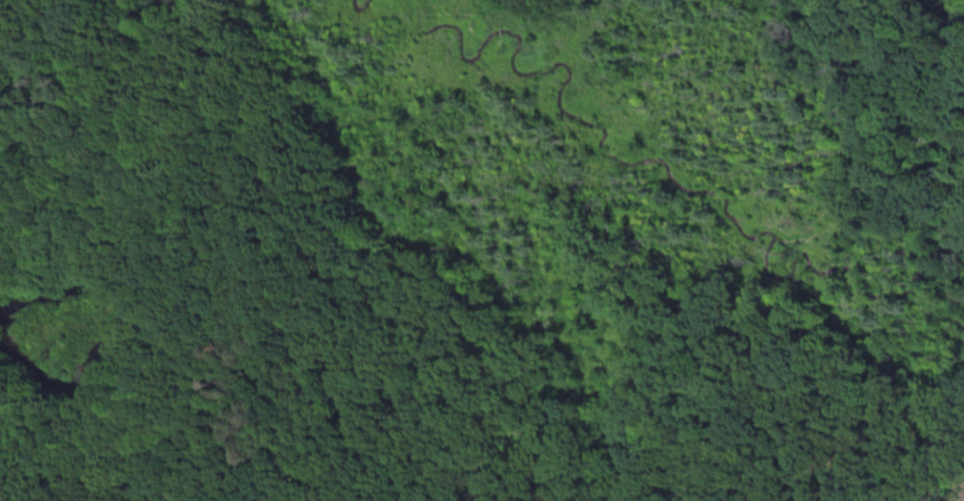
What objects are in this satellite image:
park: (482, 250)

